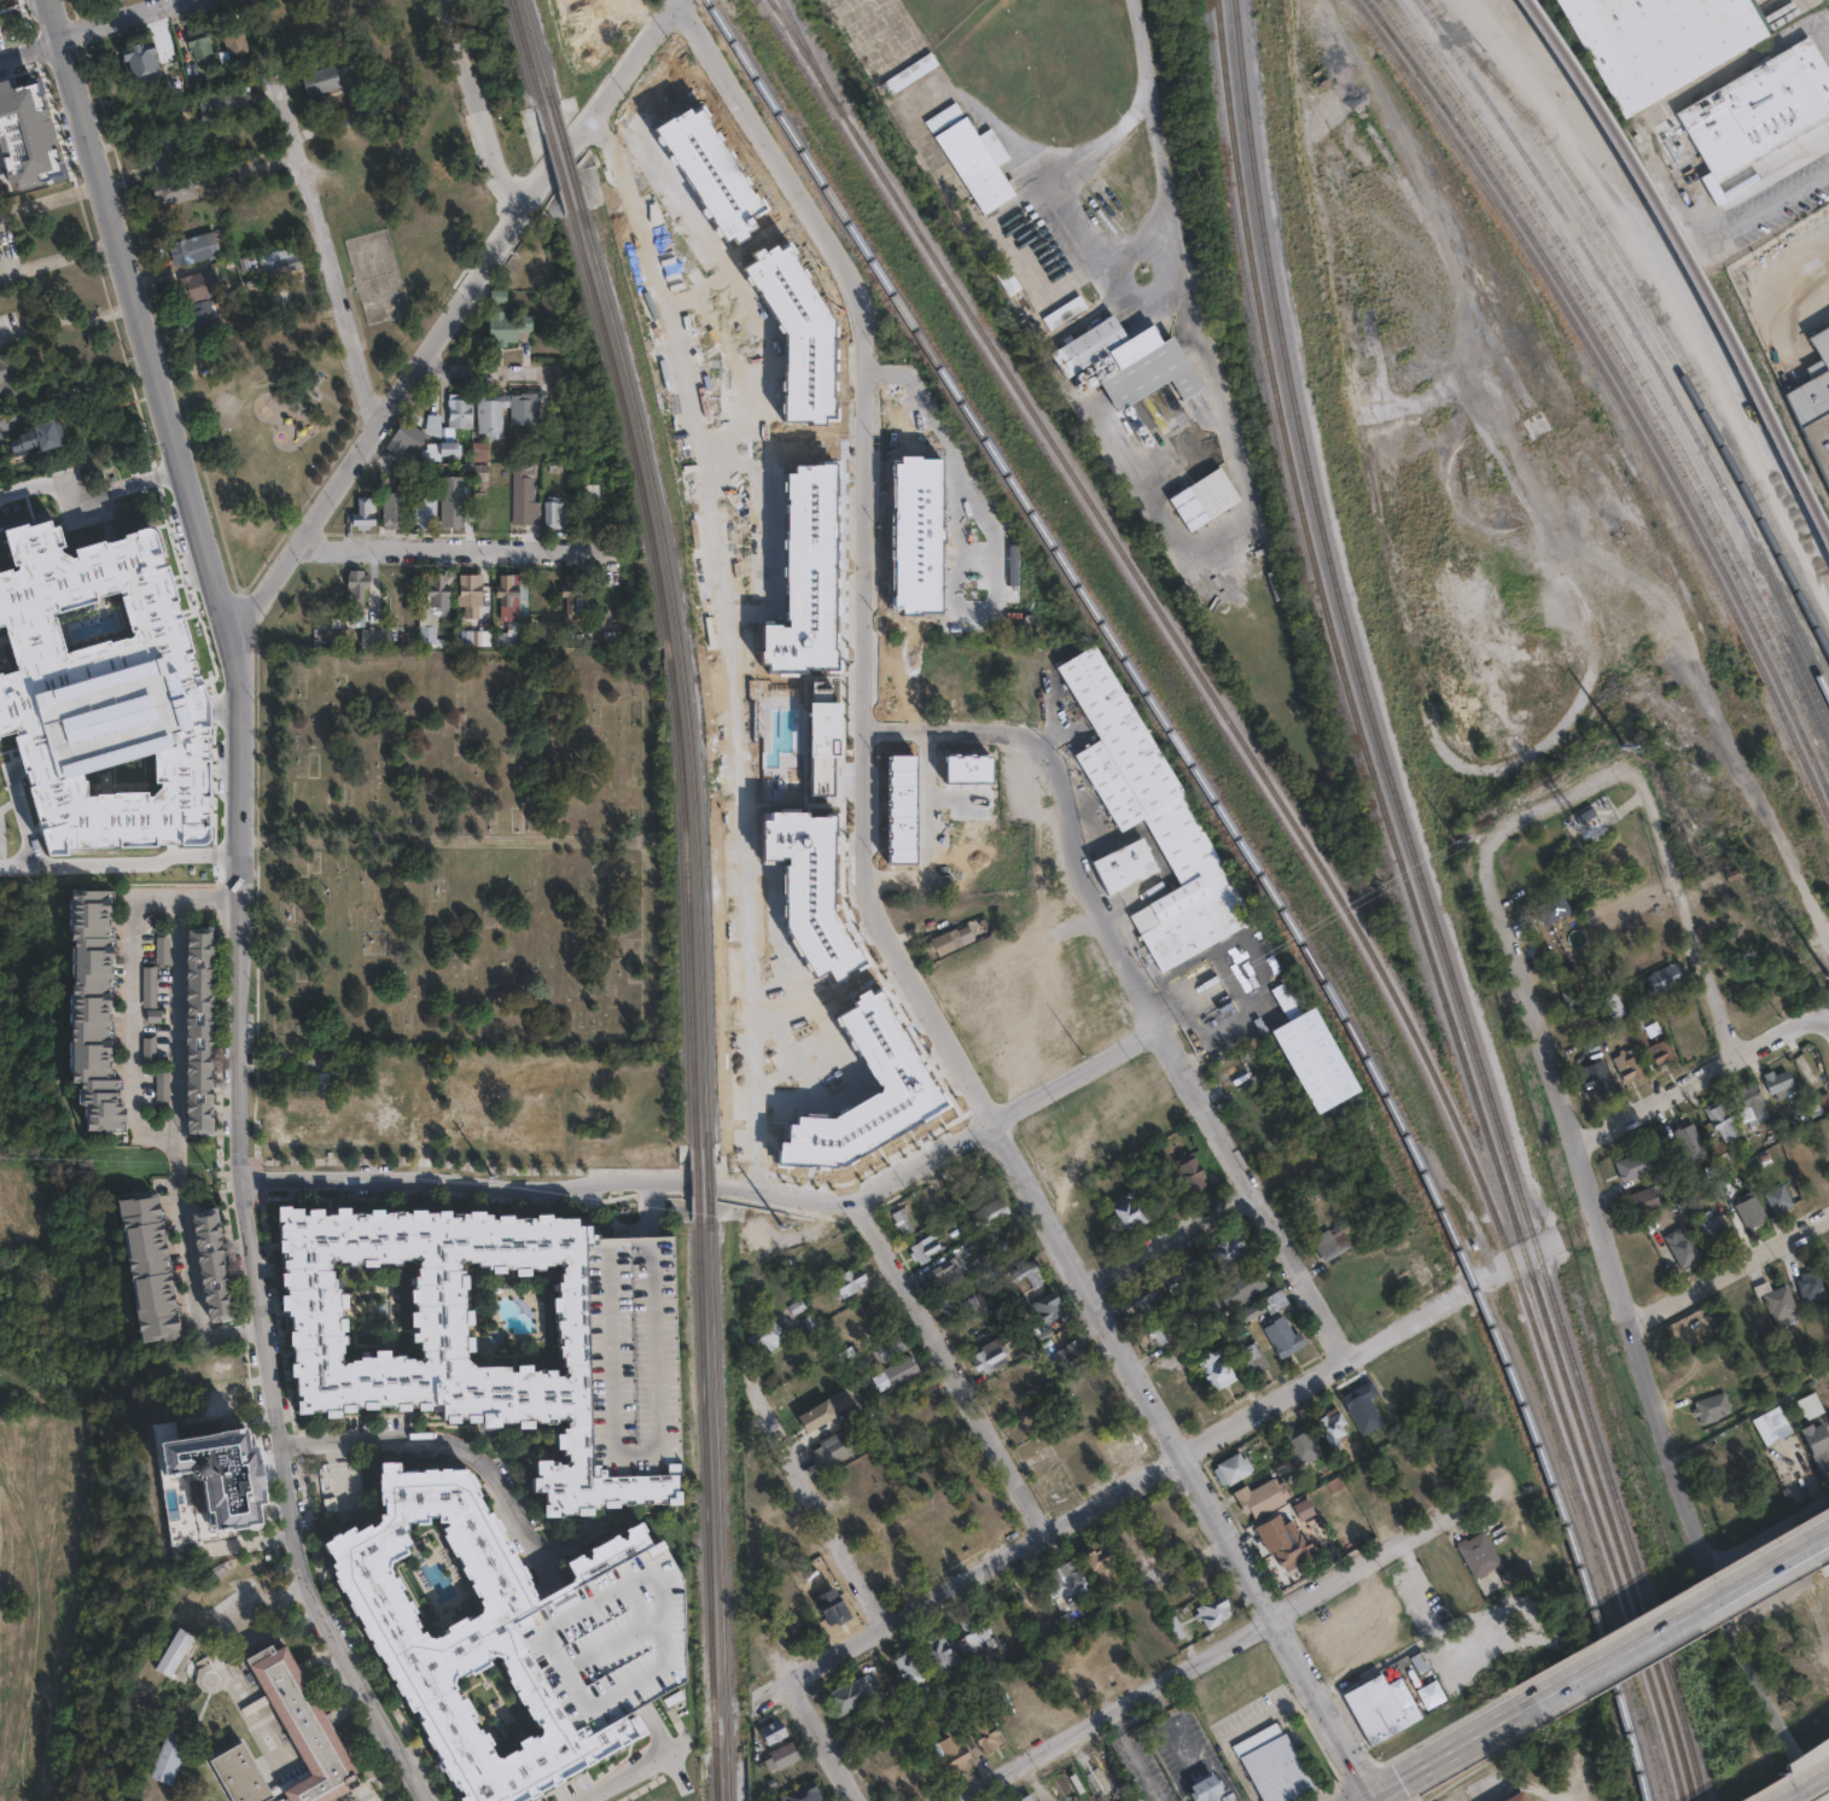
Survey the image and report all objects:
road: (122, 18)
building: (198, 41)
building: (1659, 41)
building: (234, 42)
railway: (802, 42)
road: (1141, 46)
road: (30, 51)
railway: (537, 52)
railway: (528, 53)
building: (139, 56)
building: (910, 71)
building: (1323, 78)
building: (321, 80)
building: (233, 99)
road: (478, 106)
building: (1760, 109)
building: (371, 115)
road: (1002, 130)
railway: (567, 156)
building: (162, 158)
railway: (558, 158)
road: (1764, 164)
building: (977, 165)
building: (174, 190)
road: (49, 200)
building: (194, 249)
road: (327, 250)
road: (58, 260)
railway: (1690, 263)
road: (1113, 264)
building: (276, 268)
building: (531, 270)
park: (348, 272)
building: (1008, 279)
building: (200, 286)
railway: (1652, 302)
building: (1064, 313)
road: (448, 314)
road: (66, 317)
building: (206, 319)
building: (502, 325)
railway: (1638, 340)
building: (1089, 344)
railway: (1630, 362)
railway: (1673, 363)
road: (477, 372)
railway: (1625, 374)
building: (8, 375)
building: (1135, 384)
railway: (1620, 384)
railway: (1771, 389)
railway: (1615, 396)
building: (1816, 401)
building: (518, 409)
building: (455, 414)
building: (487, 415)
building: (1166, 415)
building: (40, 438)
building: (400, 439)
building: (433, 453)
building: (476, 453)
building: (476, 476)
building: (549, 478)
building: (23, 488)
road: (89, 491)
building: (594, 492)
building: (1210, 497)
building: (447, 502)
building: (519, 502)
building: (386, 512)
building: (420, 512)
building: (357, 514)
building: (551, 514)
road: (431, 548)
road: (864, 553)
building: (353, 589)
building: (467, 591)
building: (435, 593)
building: (511, 596)
building: (570, 599)
building: (601, 620)
railway: (1108, 631)
building: (425, 636)
building: (371, 637)
building: (509, 639)
road: (732, 642)
railway: (1795, 653)
railway: (681, 670)
railway: (672, 674)
building: (93, 701)
road: (954, 729)
building: (776, 736)
power tower: (1607, 747)
road: (1560, 802)
railway: (1387, 816)
building: (1585, 820)
building: (1151, 834)
power tower: (1435, 844)
park: (459, 851)
railway: (1301, 858)
railway: (1313, 858)
road: (120, 869)
road: (1091, 892)
road: (238, 905)
railway: (1433, 908)
road: (1691, 909)
building: (1555, 910)
building: (949, 943)
power tower: (1270, 943)
building: (159, 952)
building: (1667, 977)
building: (145, 989)
building: (1210, 997)
building: (1573, 998)
building: (1617, 1007)
building: (95, 1014)
park: (28, 1015)
road: (133, 1015)
building: (1644, 1015)
building: (1585, 1024)
road: (1827, 1028)
building: (194, 1033)
building: (1662, 1051)
building: (145, 1054)
building: (1630, 1066)
building: (316, 1071)
power tower: (1045, 1076)
road: (1074, 1077)
building: (1597, 1077)
road: (1702, 1082)
building: (1780, 1084)
building: (158, 1089)
building: (1819, 1103)
building: (1753, 1106)
road: (176, 1115)
building: (1724, 1120)
building: (1691, 1142)
building: (1633, 1167)
power tower: (215, 1168)
power tower: (454, 1173)
building: (1192, 1178)
road: (881, 1179)
railway: (697, 1183)
road: (501, 1184)
building: (972, 1185)
railway: (707, 1187)
road: (1251, 1194)
building: (1780, 1197)
building: (1645, 1201)
building: (1129, 1211)
building: (1751, 1211)
building: (990, 1220)
power tower: (786, 1225)
building: (902, 1225)
building: (1712, 1226)
road: (1170, 1241)
building: (1335, 1243)
building: (1683, 1246)
building: (925, 1252)
building: (838, 1258)
building: (1215, 1261)
building: (209, 1271)
building: (148, 1272)
road: (1732, 1272)
building: (1177, 1278)
building: (943, 1281)
building: (1026, 1282)
building: (847, 1284)
building: (1243, 1286)
building: (1812, 1286)
building: (1161, 1298)
building: (1781, 1304)
building: (959, 1307)
building: (1043, 1311)
building: (1259, 1313)
road: (1636, 1327)
building: (1282, 1339)
building: (452, 1340)
building: (1151, 1341)
building: (767, 1342)
building: (1071, 1350)
building: (887, 1353)
building: (631, 1354)
parking garage: (631, 1354)
building: (990, 1356)
building: (1250, 1359)
road: (946, 1365)
building: (216, 1371)
building: (1219, 1374)
building: (901, 1375)
building: (1004, 1386)
park: (93, 1399)
building: (1363, 1405)
building: (1808, 1405)
building: (825, 1409)
building: (1713, 1409)
building: (217, 1411)
building: (1773, 1426)
building: (1334, 1429)
building: (1819, 1439)
road: (453, 1449)
building: (832, 1449)
building: (1304, 1449)
road: (1182, 1464)
building: (1234, 1467)
road: (339, 1477)
road: (1108, 1496)
building: (1264, 1496)
building: (209, 1497)
building: (1304, 1509)
railway: (706, 1510)
road: (828, 1510)
railway: (717, 1515)
road: (576, 1537)
railway: (1572, 1538)
road: (1758, 1538)
building: (1283, 1545)
building: (796, 1551)
building: (1479, 1556)
road: (1793, 1557)
road: (1177, 1562)
building: (1101, 1567)
building: (1518, 1574)
building: (1067, 1589)
building: (825, 1596)
park: (47, 1605)
road: (1700, 1608)
building: (1213, 1614)
building: (1176, 1626)
building: (468, 1633)
building: (971, 1634)
road: (1451, 1636)
building: (613, 1637)
parking garage: (613, 1637)
road: (1243, 1639)
road: (29, 1643)
road: (598, 1649)
building: (181, 1651)
building: (937, 1653)
building: (909, 1668)
building: (979, 1673)
building: (851, 1697)
building: (676, 1700)
railway: (1667, 1707)
building: (1374, 1708)
building: (309, 1726)
road: (654, 1729)
building: (984, 1731)
building: (770, 1733)
road: (827, 1739)
road: (1475, 1739)
building: (951, 1750)
building: (173, 1753)
building: (781, 1755)
building: (1269, 1764)
road: (631, 1767)
building: (245, 1773)
road: (1805, 1784)
building: (1215, 1788)
road: (1807, 1788)
building: (805, 1791)
traffic signals: (1380, 1796)
building: (1025, 1797)
building: (1516, 1797)
road: (1375, 1799)

